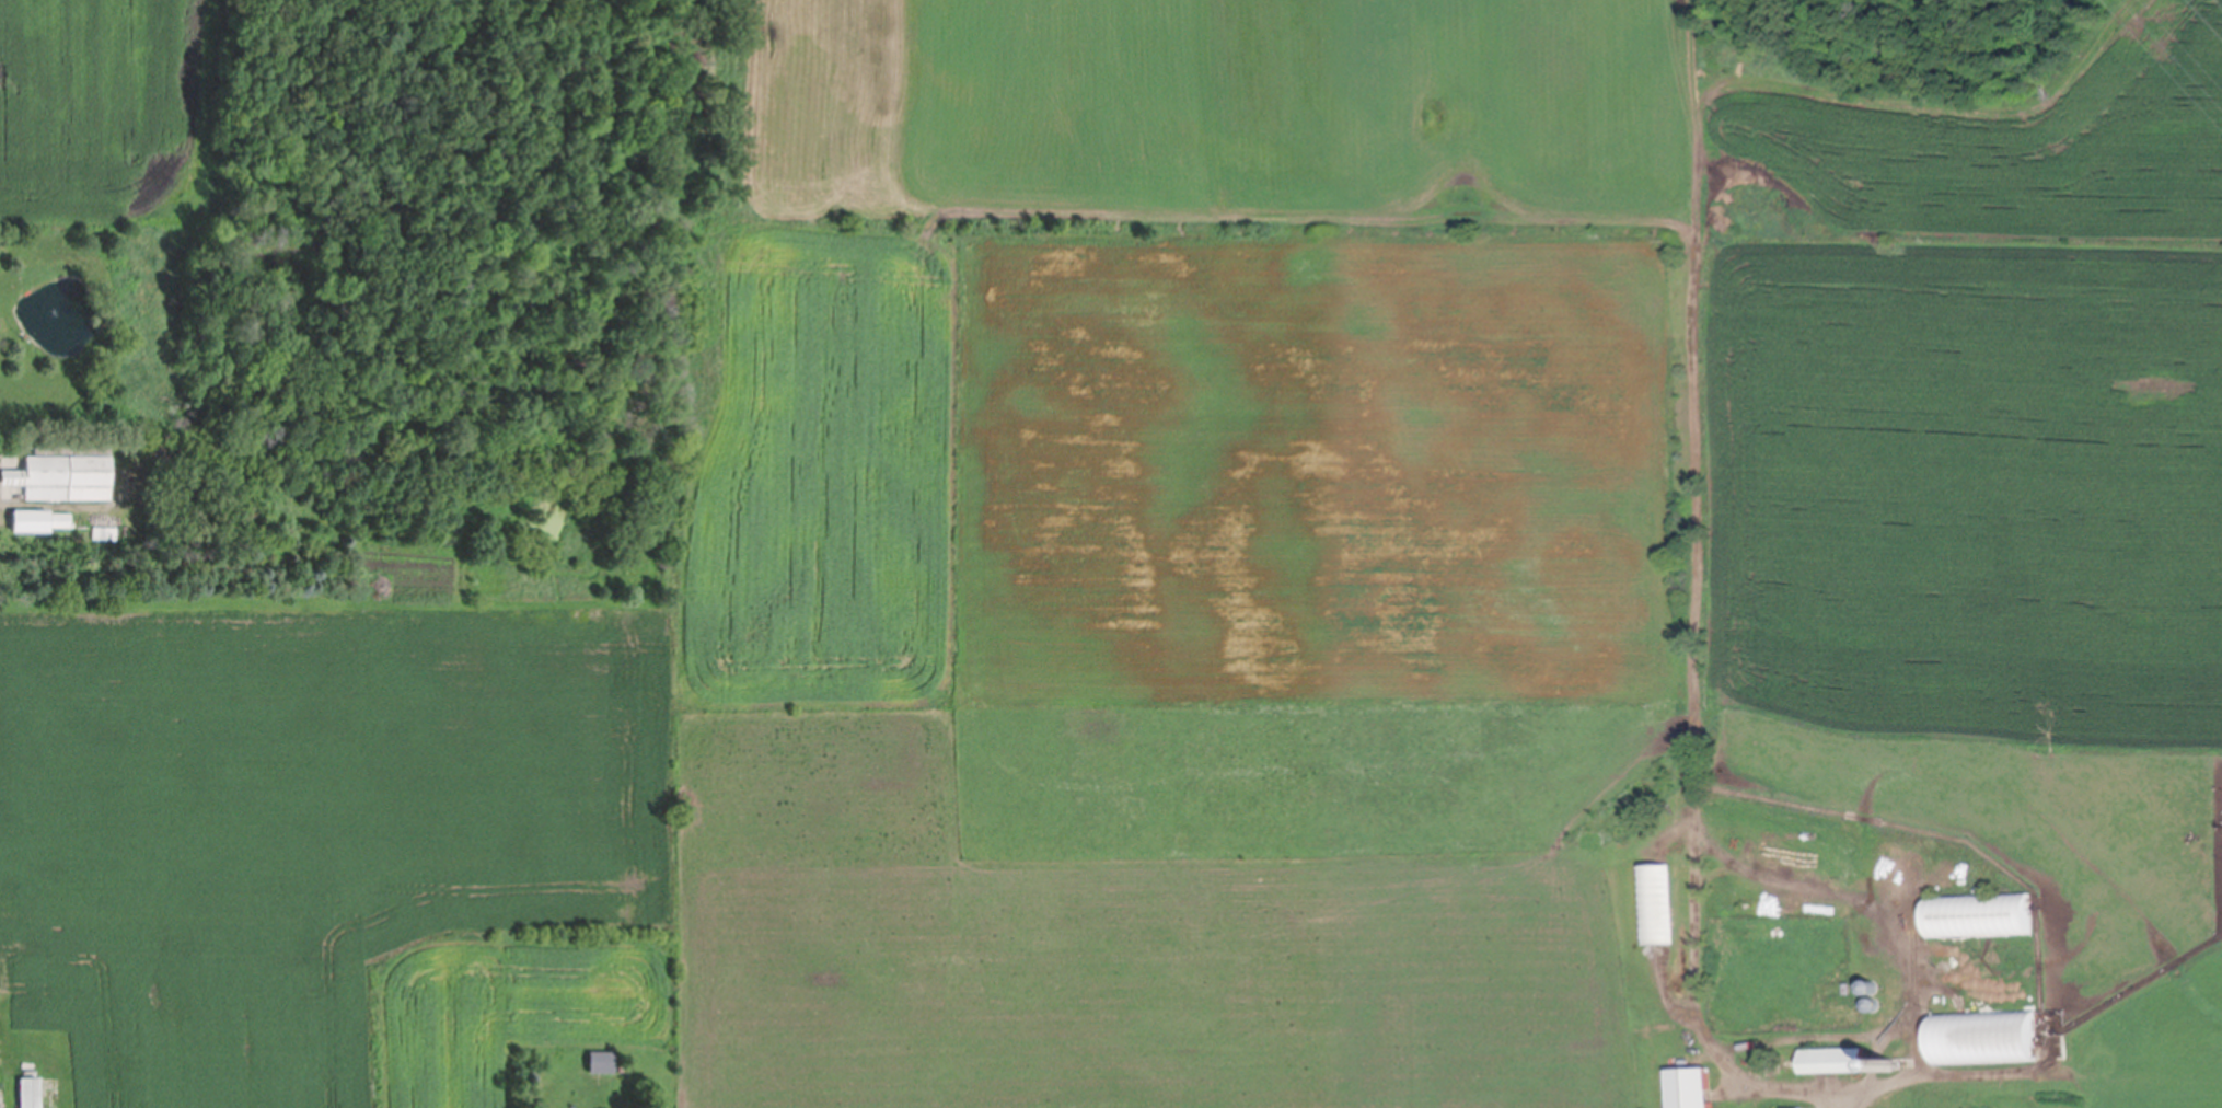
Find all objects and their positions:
fountain: (55, 305)
building: (66, 476)
building: (32, 520)
building: (61, 520)
road: (1739, 855)
building: (1656, 907)
building: (1980, 917)
building: (1870, 984)
building: (1872, 1004)
building: (1984, 1038)
building: (1889, 1063)
building: (1835, 1064)
building: (601, 1066)
building: (1690, 1090)
building: (30, 1095)
road: (1844, 1101)

